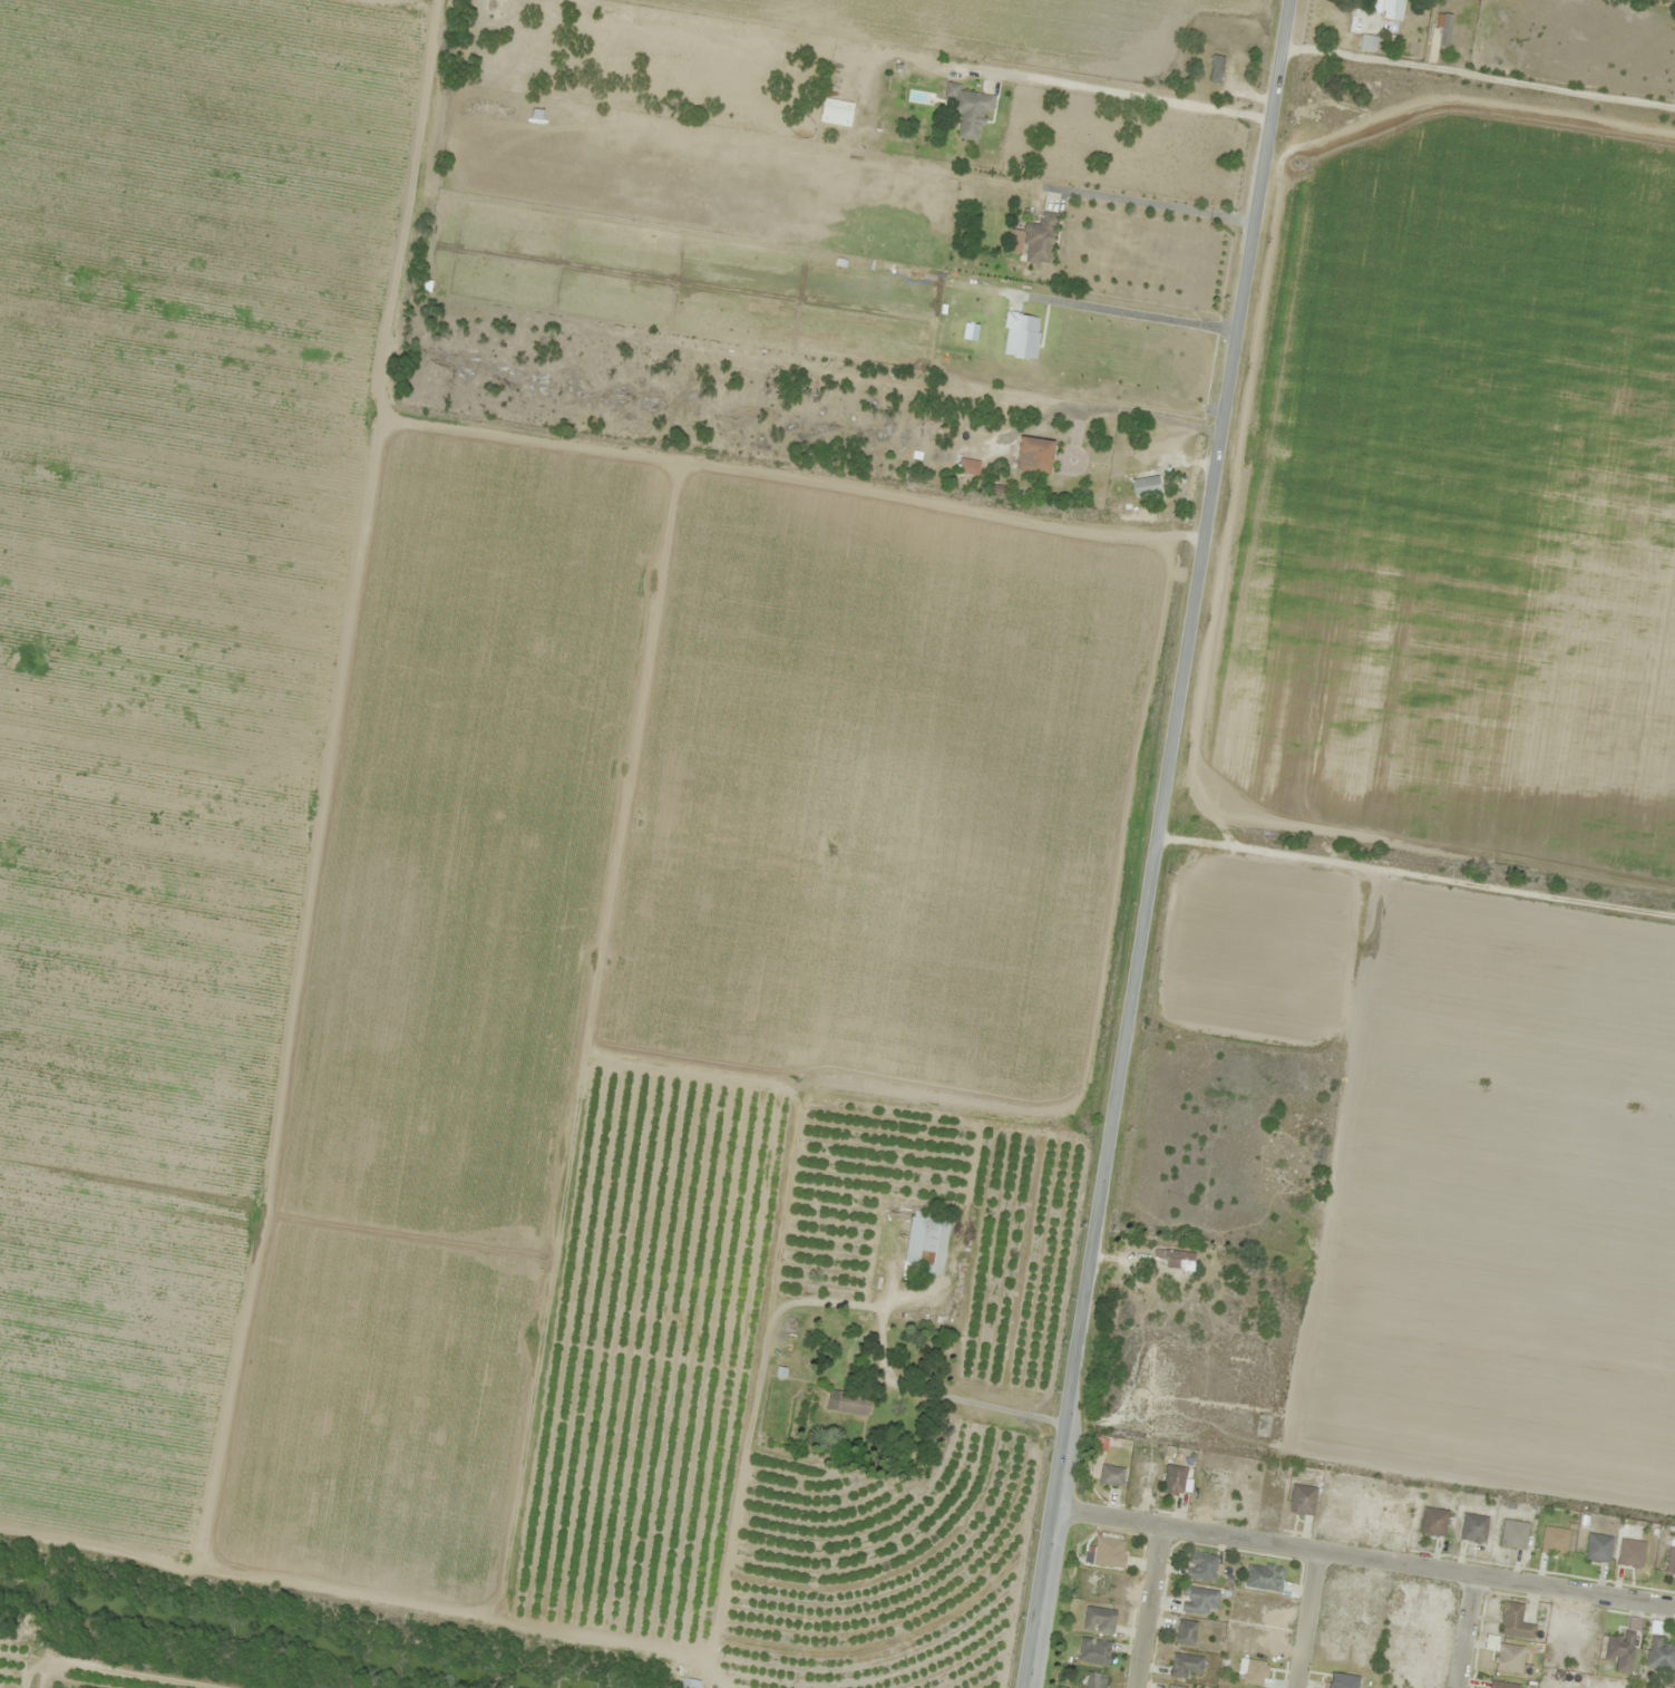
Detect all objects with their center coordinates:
building: (1391, 8)
building: (1369, 41)
building: (1216, 68)
road: (1479, 77)
building: (952, 91)
building: (970, 120)
building: (1041, 239)
building: (1035, 455)
building: (1147, 486)
road: (1165, 844)
building: (926, 1242)
building: (1176, 1257)
building: (848, 1403)
building: (1112, 1475)
building: (1175, 1480)
building: (1303, 1500)
building: (1433, 1521)
building: (1473, 1527)
building: (1515, 1533)
building: (1555, 1540)
building: (1599, 1548)
building: (1110, 1552)
building: (1632, 1552)
road: (1367, 1559)
building: (1671, 1560)
building: (1201, 1566)
building: (1264, 1577)
building: (1198, 1600)
road: (1148, 1608)
building: (1100, 1619)
road: (1305, 1619)
building: (1515, 1621)
road: (1463, 1631)
building: (1186, 1632)
building: (1094, 1650)
building: (1622, 1651)
building: (1661, 1653)
building: (1509, 1658)
building: (1185, 1665)
building: (1255, 1672)
building: (1095, 1680)
building: (1344, 1680)
building: (690, 1682)
building: (1504, 1685)
building: (1175, 1687)

